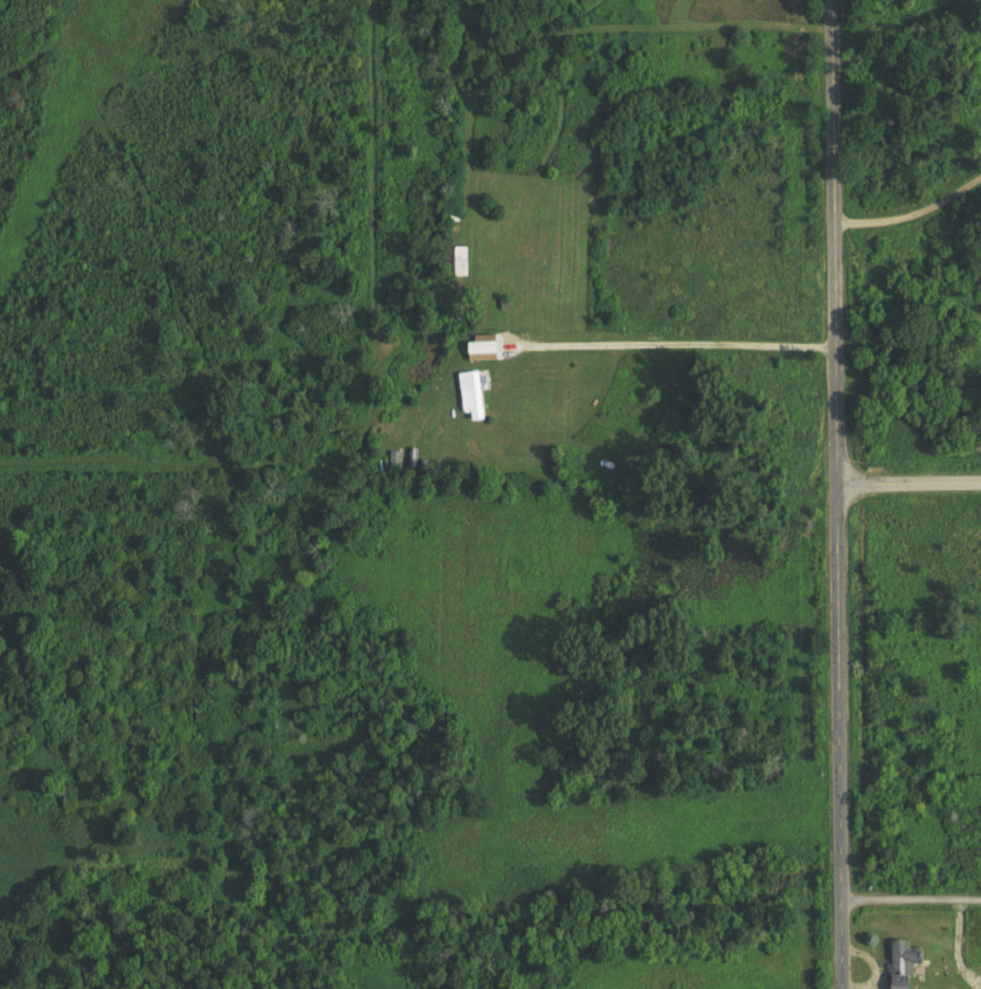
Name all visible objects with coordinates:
road: (914, 213)
building: (460, 264)
road: (682, 333)
building: (488, 348)
building: (477, 395)
building: (400, 460)
road: (911, 489)
road: (842, 494)
road: (911, 896)
building: (905, 964)

